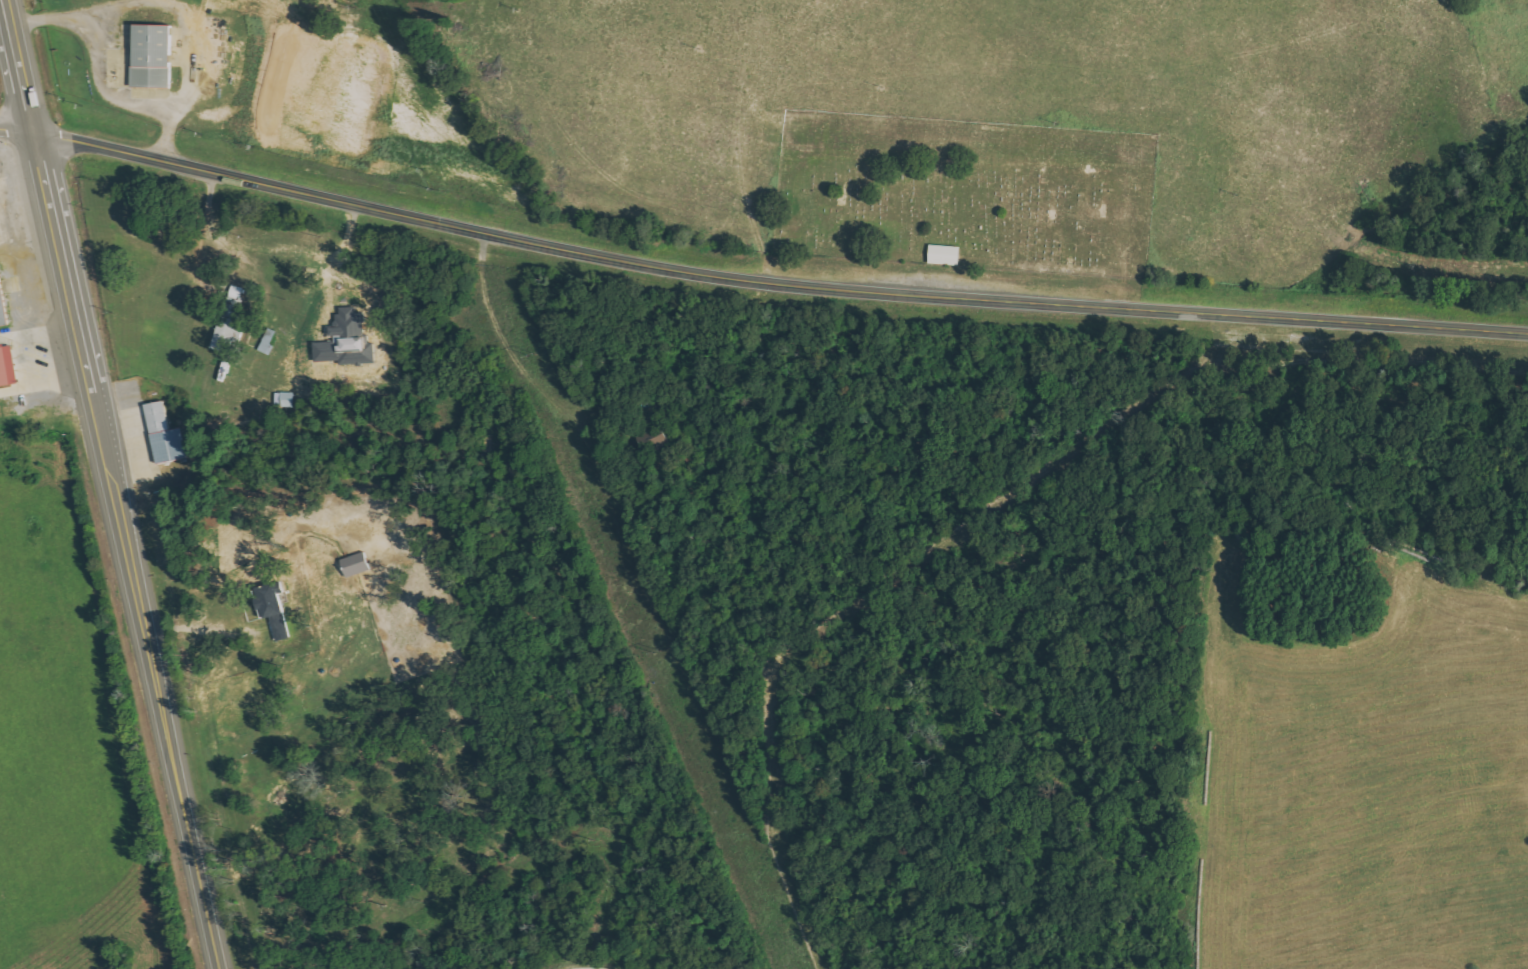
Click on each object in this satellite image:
park: (961, 215)
building: (942, 256)
road: (757, 272)
building: (2, 311)
building: (229, 320)
building: (345, 341)
building: (6, 367)
building: (163, 435)
road: (119, 484)
building: (354, 565)
building: (270, 610)

